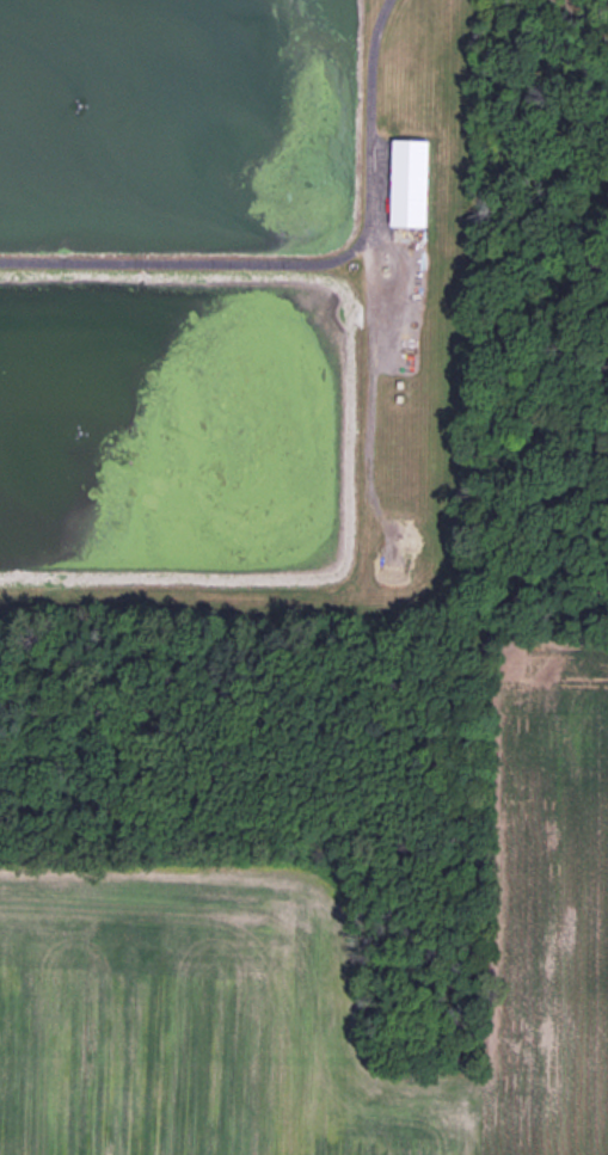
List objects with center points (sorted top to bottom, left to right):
building: (411, 185)
road: (307, 262)
crop: (321, 979)

